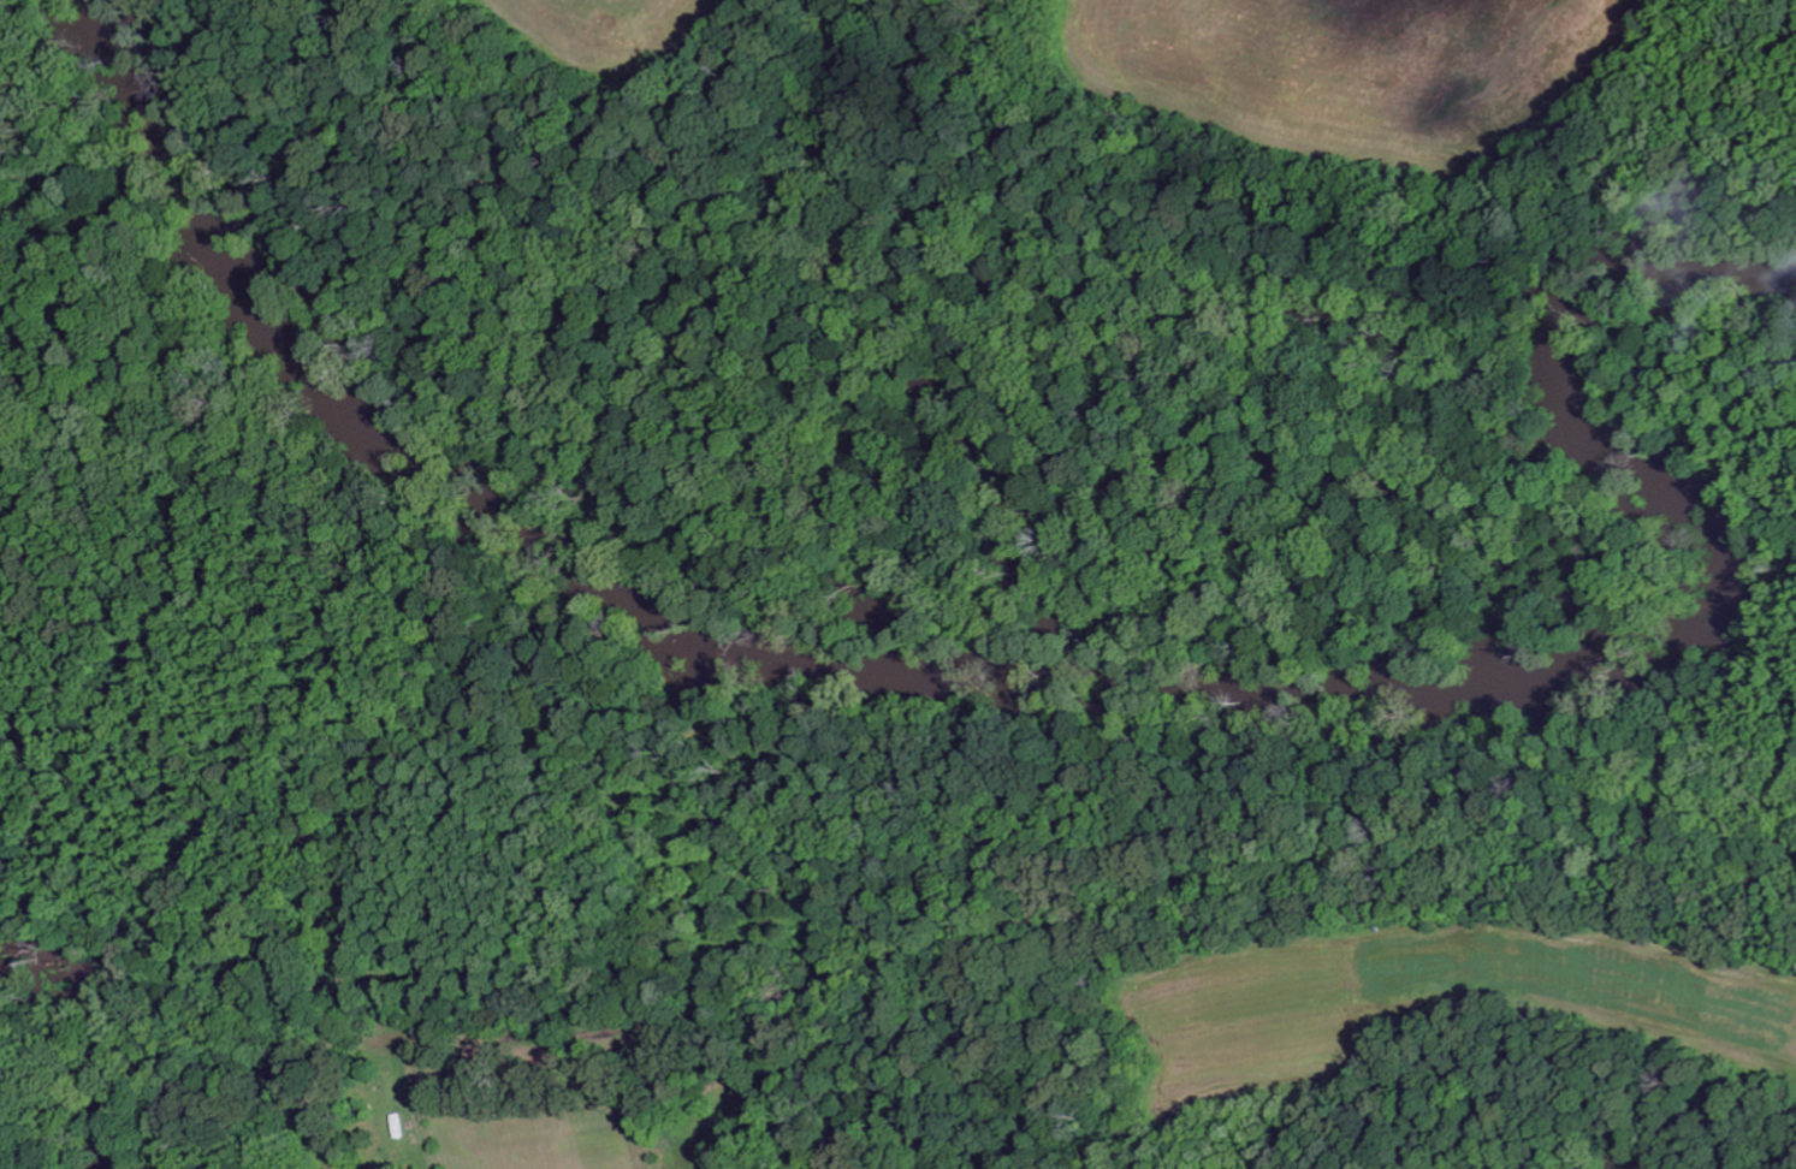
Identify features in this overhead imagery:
river: (1101, 670)
road: (1010, 990)

